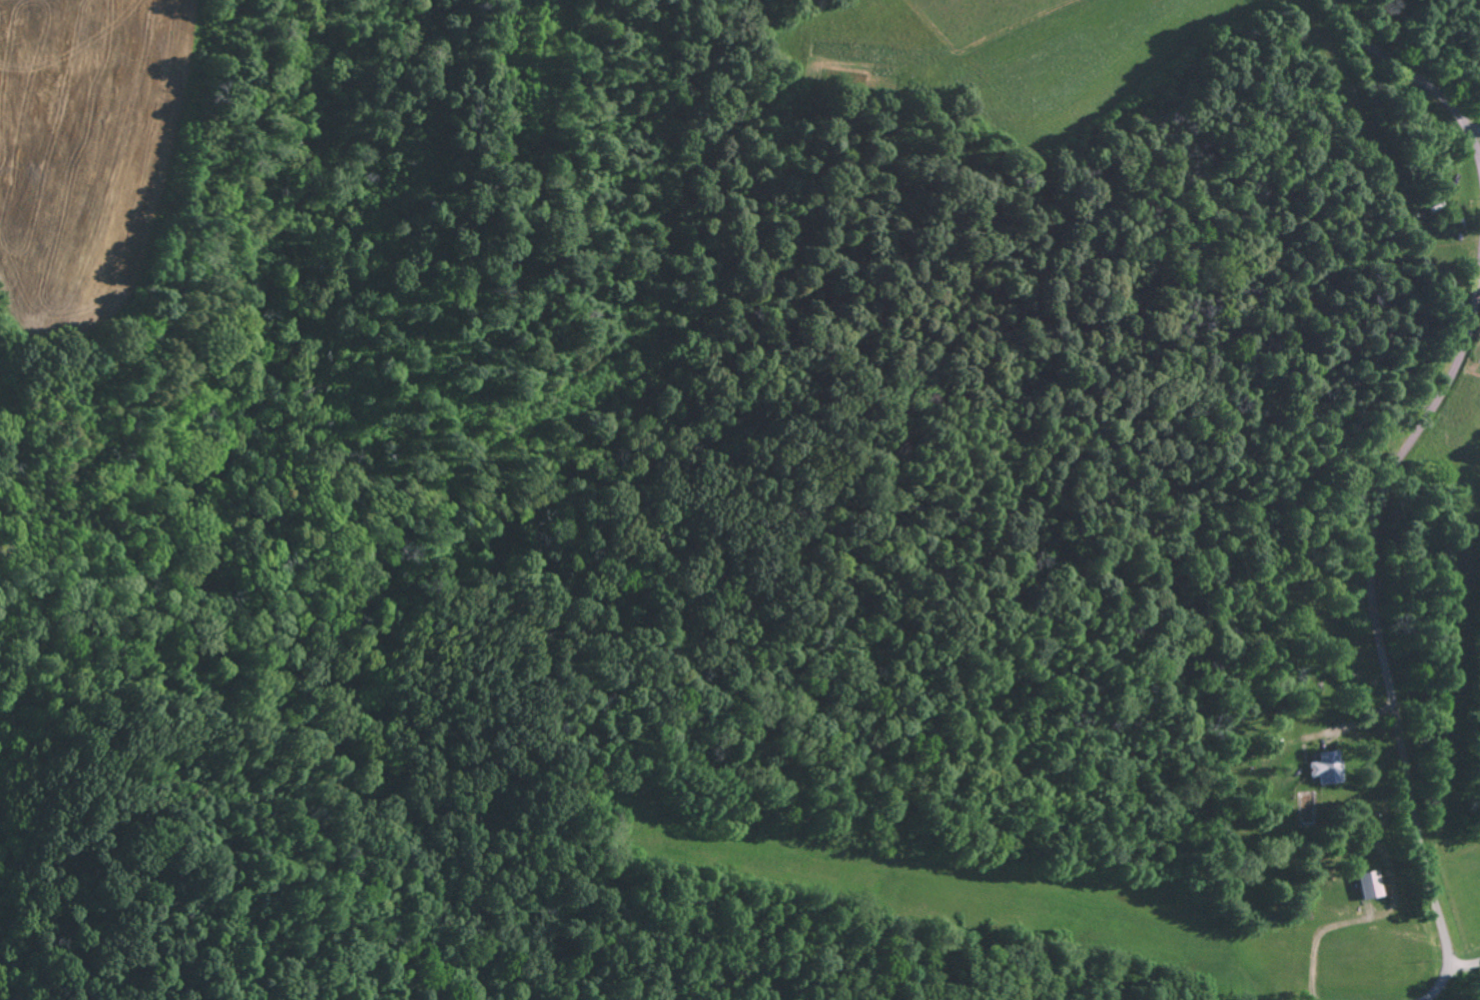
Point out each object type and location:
road: (1413, 80)
road: (1375, 622)
building: (1324, 767)
building: (1369, 885)
road: (1314, 936)
road: (1463, 966)

